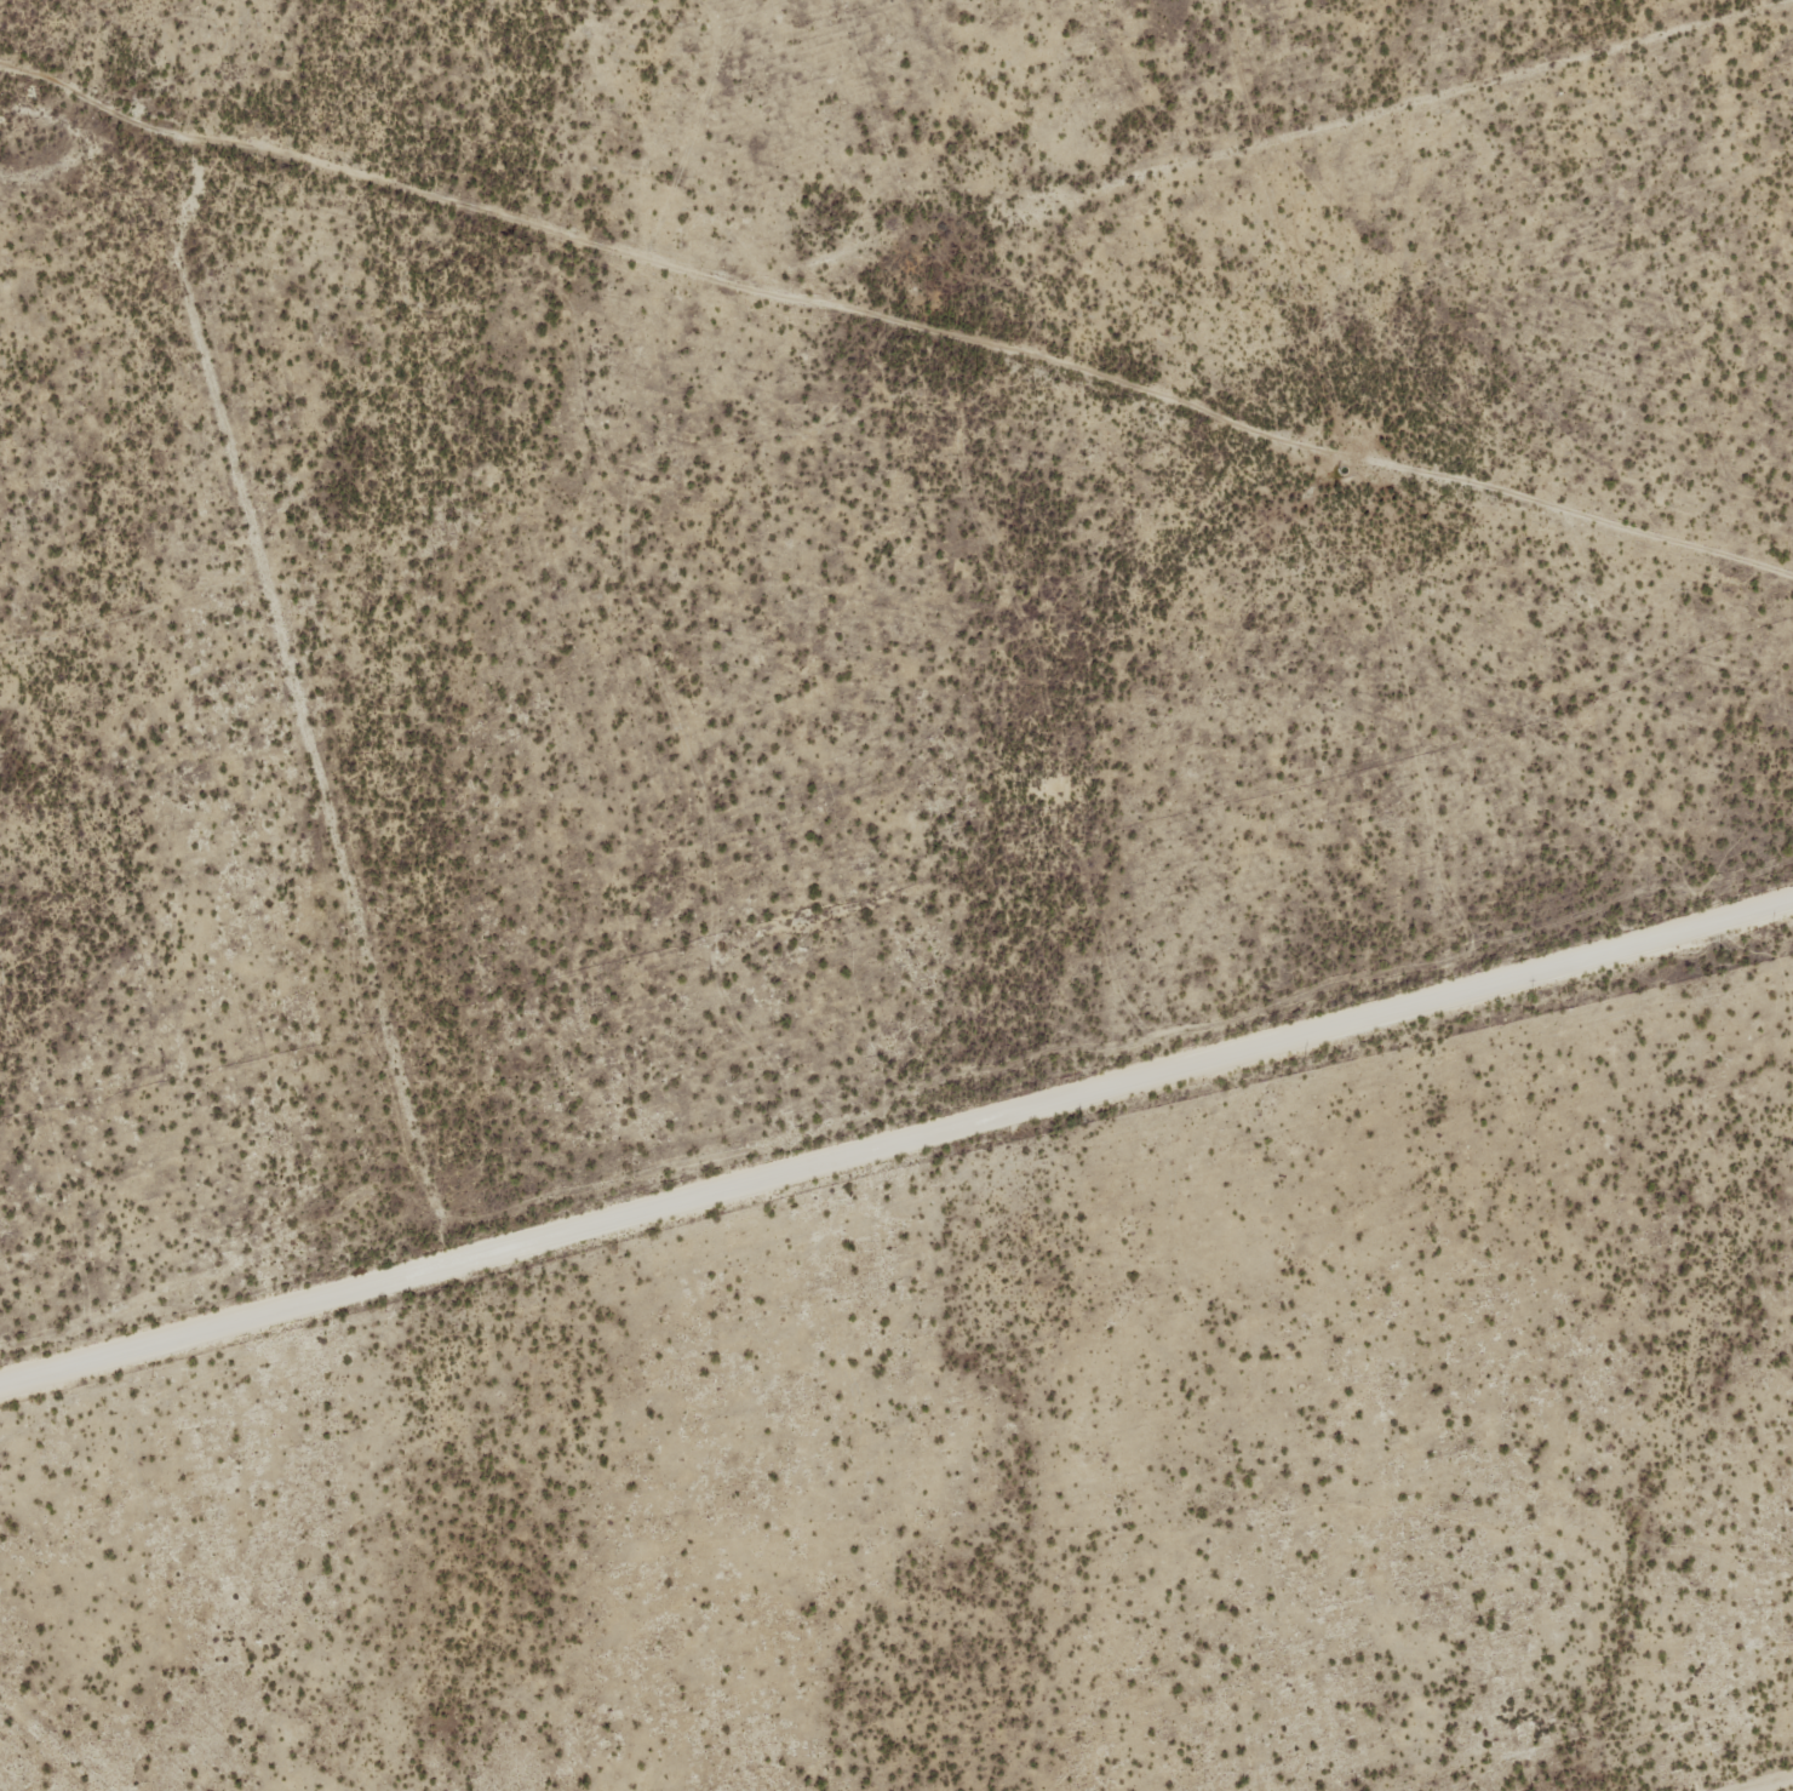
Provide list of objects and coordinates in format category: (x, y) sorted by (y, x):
road: (1422, 102)
road: (317, 746)
road: (896, 1134)
road: (359, 1364)
road: (1772, 1785)

